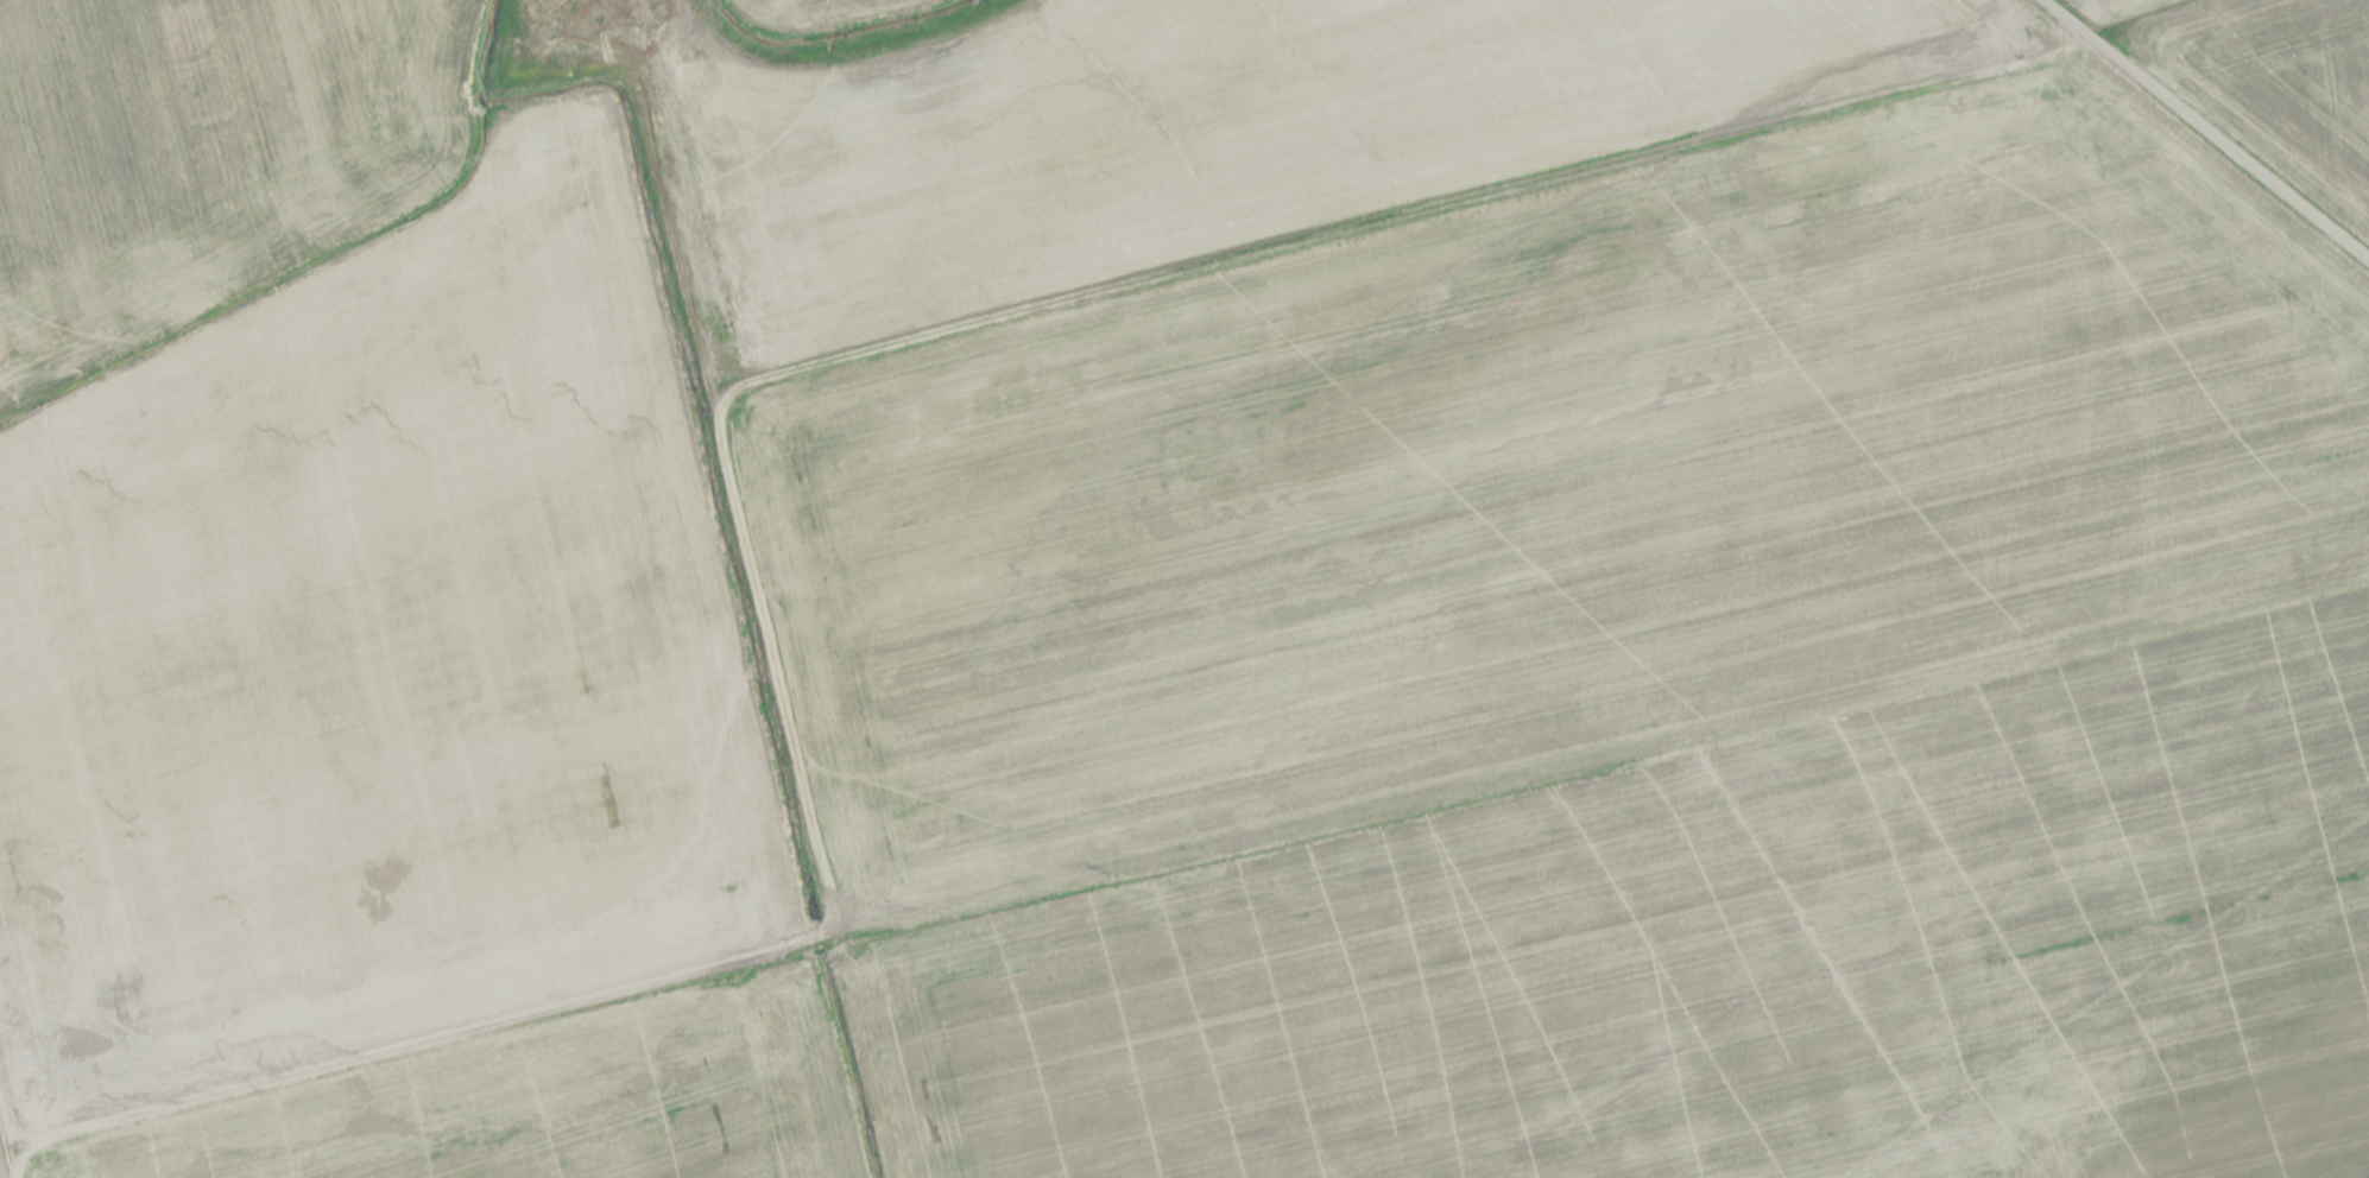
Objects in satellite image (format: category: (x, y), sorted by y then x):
road: (2204, 129)

